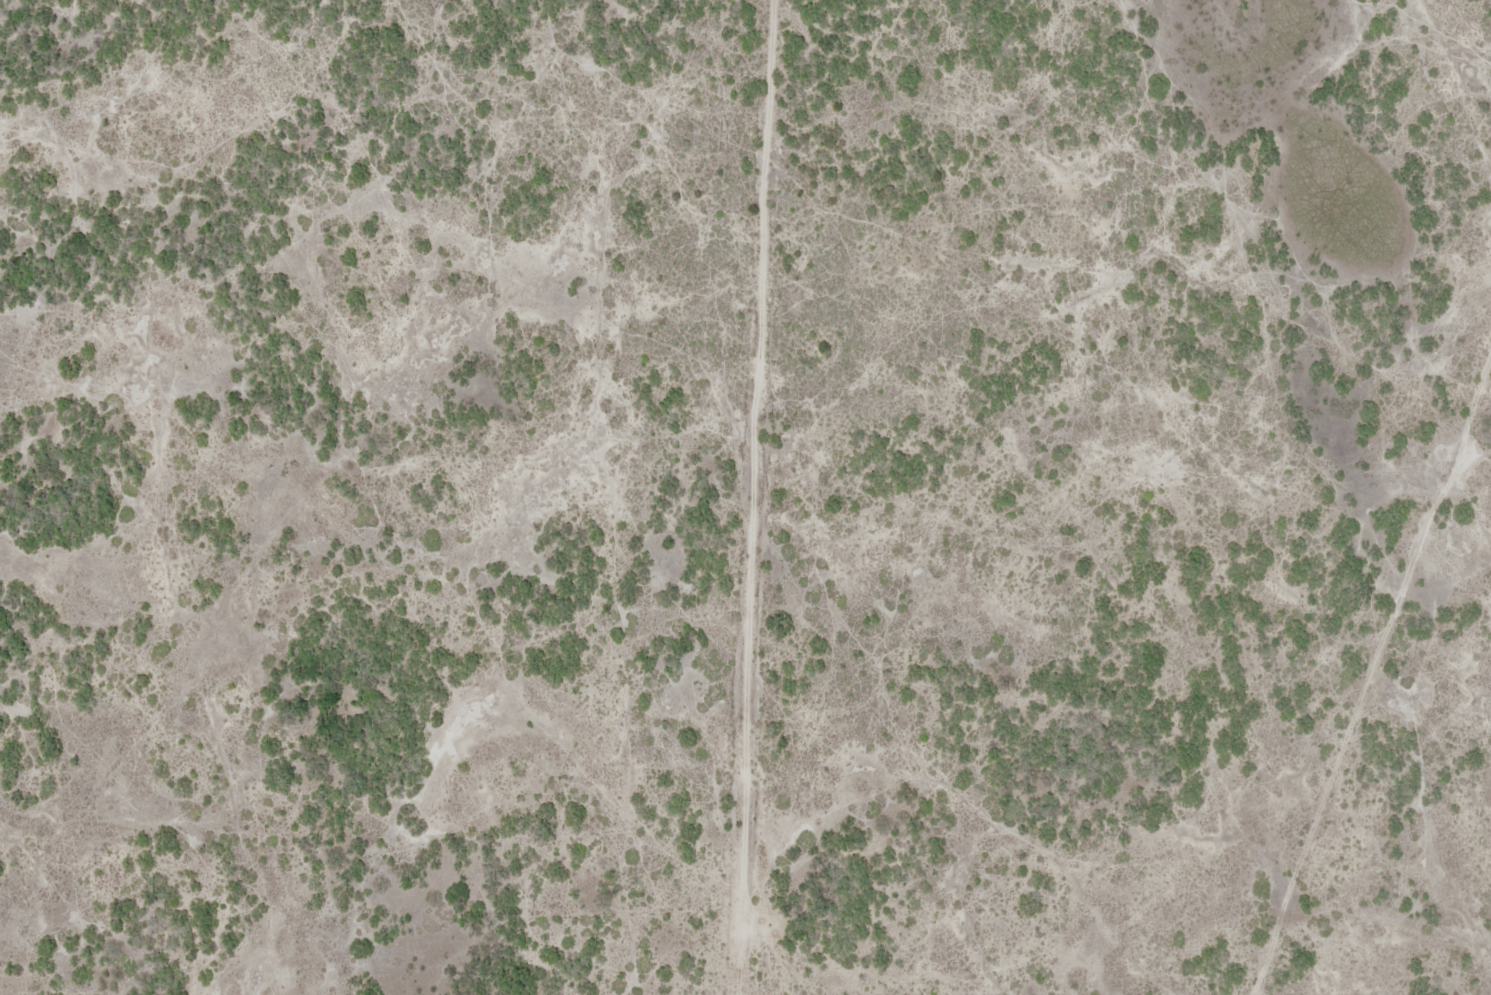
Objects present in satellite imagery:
road: (752, 497)

